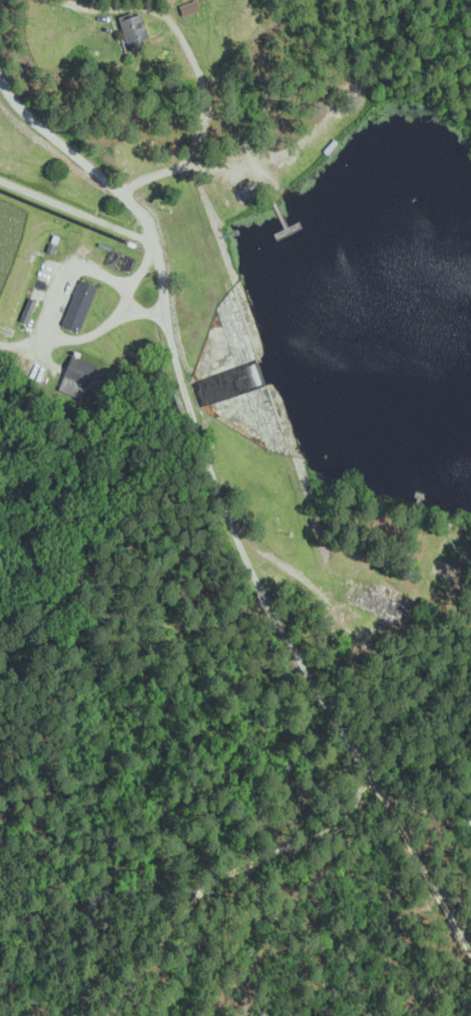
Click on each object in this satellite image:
building: (190, 6)
building: (135, 27)
road: (85, 159)
dam: (256, 299)
building: (81, 304)
building: (80, 377)
dam: (303, 443)
building: (384, 601)

